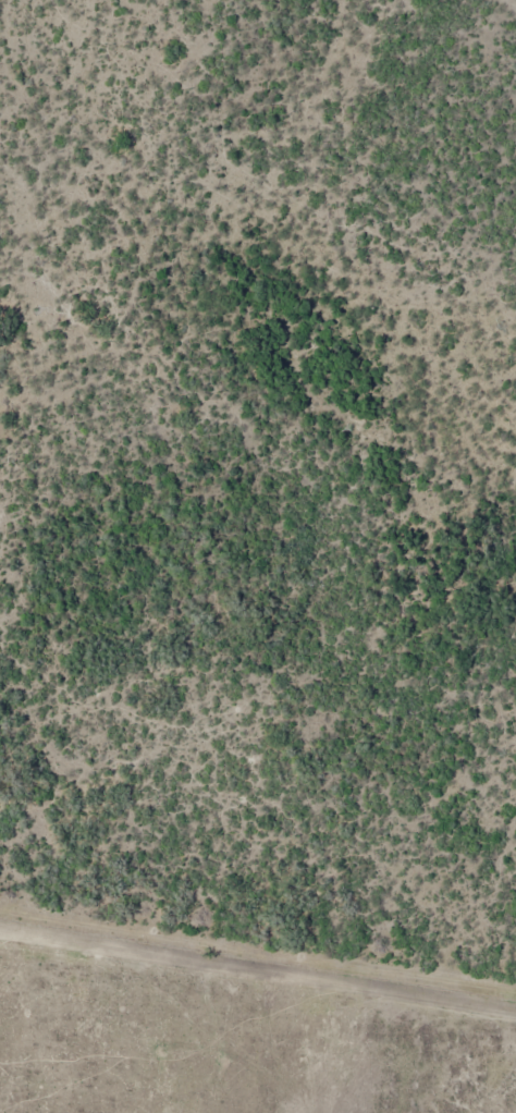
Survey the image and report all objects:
road: (489, 858)

